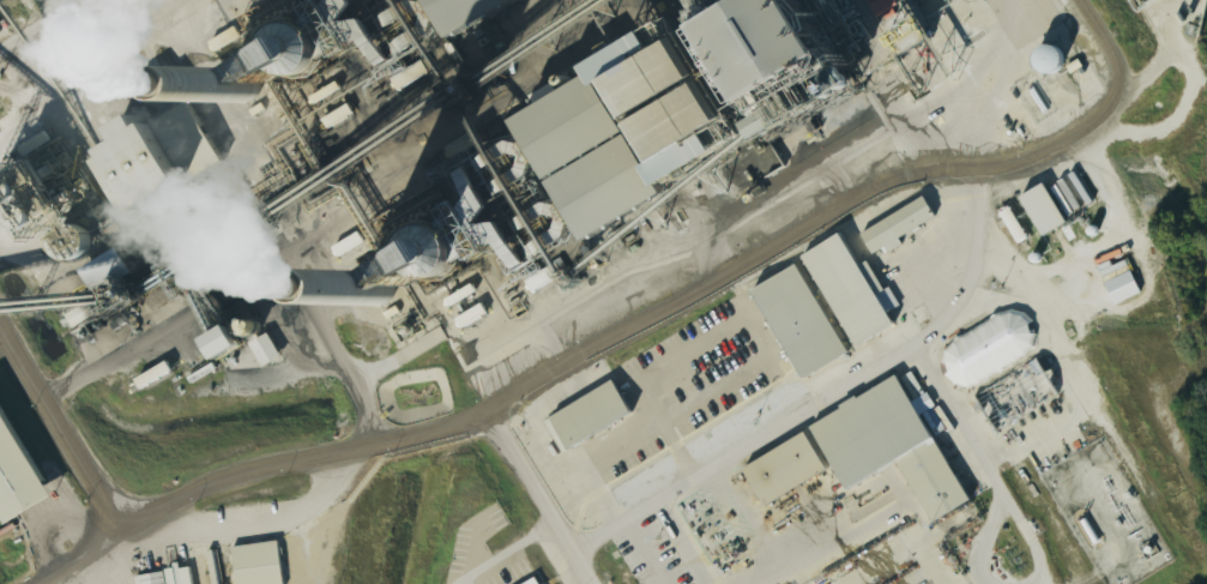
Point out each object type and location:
building: (348, 38)
chimney: (253, 90)
building: (343, 116)
building: (648, 127)
building: (163, 159)
building: (1050, 210)
building: (893, 223)
building: (1019, 227)
building: (1127, 289)
chimney: (384, 291)
power plant: (603, 291)
building: (841, 291)
building: (792, 323)
building: (257, 345)
building: (994, 350)
building: (158, 375)
building: (1020, 395)
building: (714, 401)
building: (585, 415)
building: (883, 445)
building: (779, 469)
road: (251, 471)
building: (14, 477)
road: (543, 498)
building: (946, 526)
building: (237, 536)
building: (245, 573)
building: (171, 577)
building: (529, 580)
building: (542, 582)

